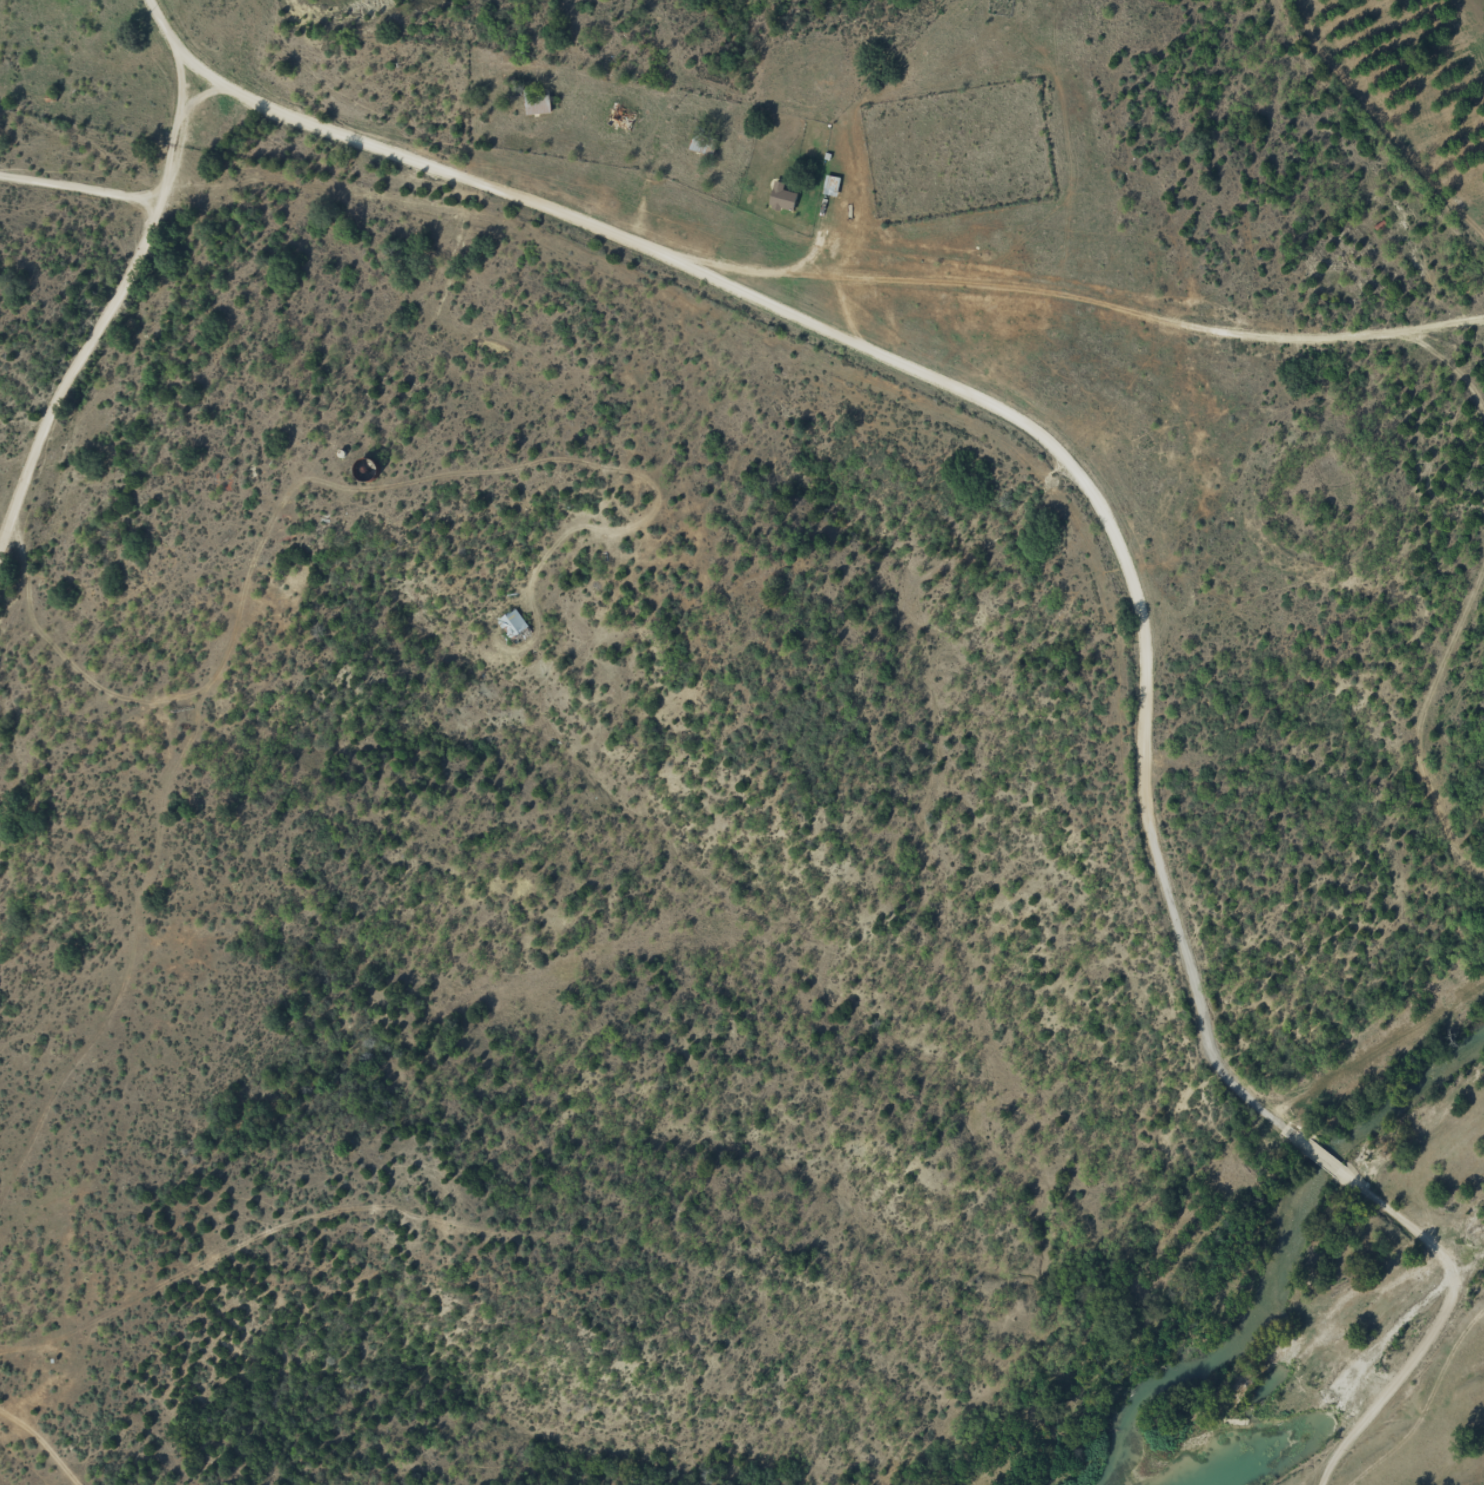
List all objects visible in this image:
building: (537, 106)
building: (619, 120)
building: (701, 147)
building: (782, 200)
road: (86, 221)
road: (1132, 301)
road: (112, 385)
road: (976, 436)
building: (514, 628)
river: (1278, 1251)
road: (1427, 1275)
road: (1432, 1419)

